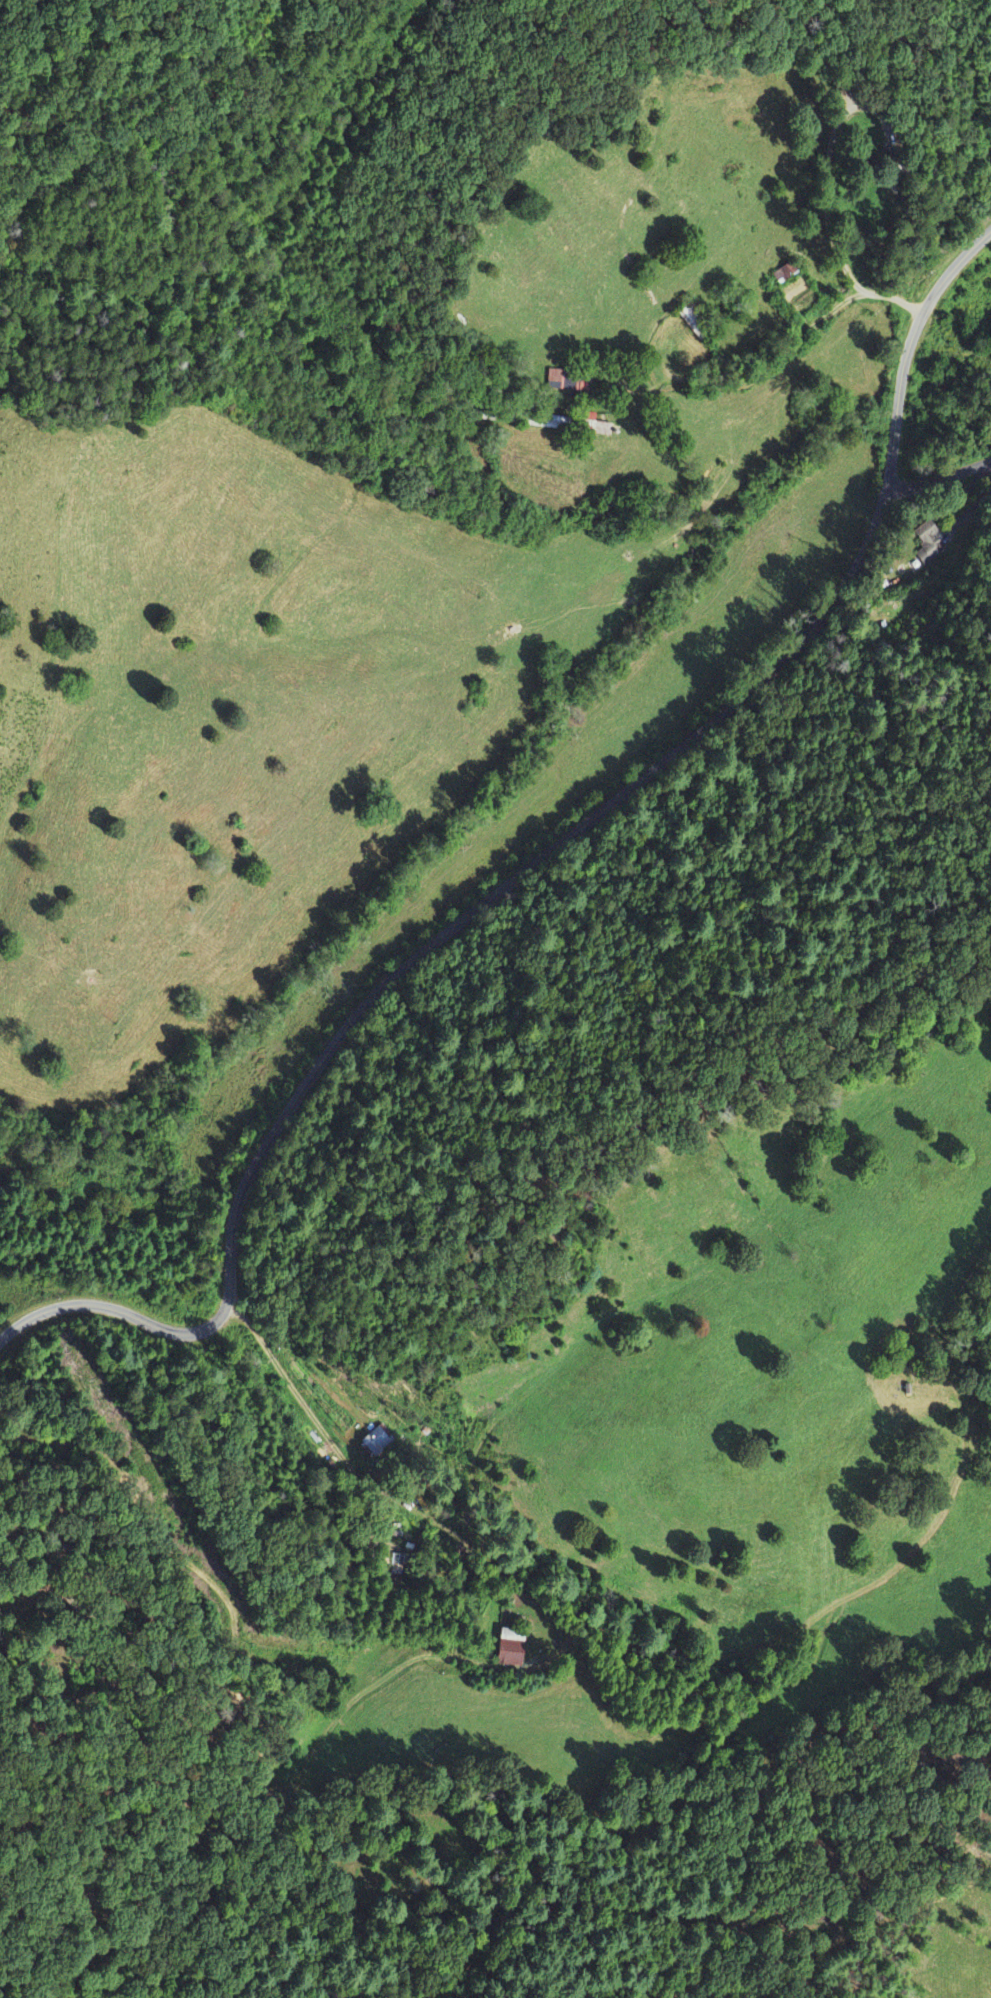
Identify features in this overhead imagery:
building: (784, 274)
road: (797, 340)
road: (936, 479)
building: (926, 547)
road: (529, 862)
building: (375, 1442)
building: (510, 1650)

